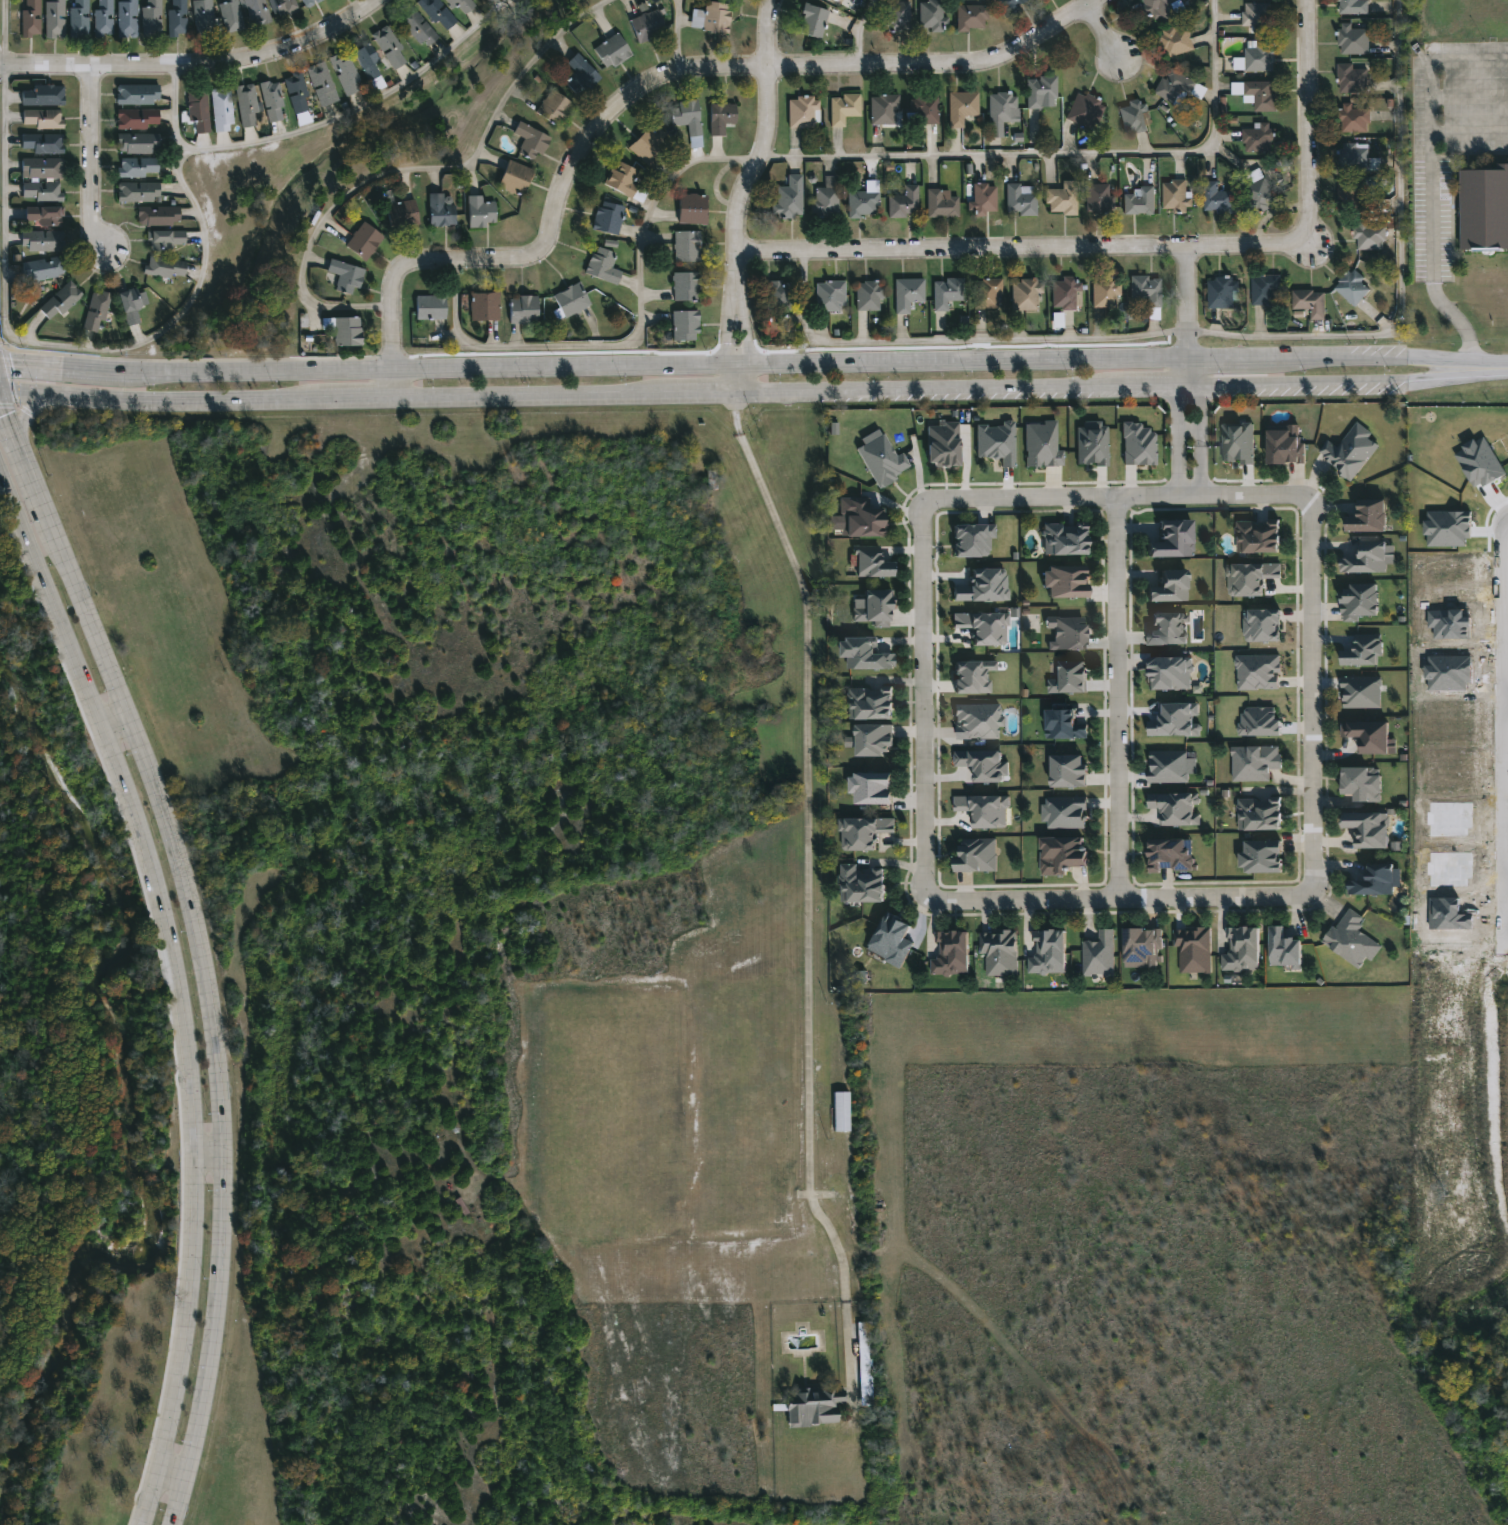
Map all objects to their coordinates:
building: (480, 0)
building: (840, 0)
building: (307, 2)
building: (1010, 4)
building: (285, 6)
building: (460, 6)
building: (1352, 7)
building: (1162, 8)
building: (254, 12)
building: (436, 14)
building: (931, 14)
building: (229, 15)
building: (898, 16)
building: (1257, 16)
building: (176, 17)
building: (202, 17)
building: (711, 17)
building: (972, 17)
building: (30, 18)
building: (53, 18)
building: (77, 18)
building: (102, 18)
building: (125, 18)
building: (150, 18)
building: (812, 20)
building: (647, 26)
building: (417, 27)
road: (5, 32)
road: (857, 33)
road: (1105, 35)
road: (677, 37)
building: (1353, 38)
building: (1177, 40)
building: (389, 47)
building: (612, 51)
building: (1258, 55)
road: (1433, 61)
building: (370, 67)
road: (198, 69)
building: (346, 73)
building: (580, 76)
building: (1352, 77)
building: (321, 83)
building: (1178, 85)
road: (650, 86)
building: (1039, 89)
building: (296, 92)
building: (1257, 93)
building: (136, 94)
building: (41, 95)
building: (271, 100)
building: (246, 105)
building: (962, 106)
building: (843, 107)
building: (1002, 107)
building: (221, 108)
building: (553, 108)
building: (883, 108)
building: (197, 109)
road: (357, 109)
road: (1309, 109)
building: (923, 110)
building: (1085, 110)
building: (801, 111)
building: (1134, 115)
building: (686, 116)
building: (721, 117)
building: (1354, 117)
building: (42, 118)
building: (137, 118)
road: (1469, 134)
building: (1258, 138)
building: (530, 141)
building: (41, 142)
building: (138, 143)
building: (648, 145)
road: (766, 149)
road: (1062, 155)
building: (1354, 156)
building: (41, 167)
road: (93, 167)
building: (137, 167)
road: (414, 168)
building: (515, 177)
building: (625, 181)
park: (335, 184)
building: (1260, 190)
building: (42, 191)
building: (138, 191)
building: (1176, 193)
building: (1353, 193)
building: (825, 197)
building: (1096, 197)
building: (1217, 197)
building: (788, 198)
building: (1061, 198)
building: (984, 199)
building: (1139, 200)
building: (1019, 201)
building: (904, 202)
building: (941, 202)
building: (862, 203)
building: (1485, 207)
building: (693, 208)
building: (441, 209)
building: (480, 211)
building: (402, 213)
building: (44, 216)
building: (158, 216)
building: (607, 217)
building: (1370, 235)
building: (164, 239)
building: (364, 239)
building: (43, 240)
building: (686, 246)
road: (1032, 252)
road: (1431, 255)
building: (164, 266)
building: (602, 266)
building: (43, 268)
road: (1401, 268)
building: (345, 276)
building: (685, 285)
building: (1352, 285)
building: (1146, 289)
building: (1266, 289)
building: (1221, 291)
building: (946, 292)
building: (1066, 292)
building: (1105, 292)
building: (907, 293)
building: (987, 293)
building: (778, 295)
building: (830, 295)
building: (868, 295)
building: (1026, 295)
building: (60, 299)
building: (570, 299)
building: (1310, 301)
building: (129, 304)
building: (484, 305)
road: (1189, 305)
building: (430, 306)
building: (523, 309)
building: (95, 311)
building: (684, 325)
road: (724, 329)
building: (347, 331)
road: (747, 332)
road: (638, 335)
road: (90, 349)
road: (1404, 356)
road: (1283, 357)
road: (1217, 358)
road: (658, 365)
road: (1498, 366)
road: (64, 367)
road: (734, 379)
traffic signals: (0, 390)
road: (745, 392)
road: (25, 421)
road: (1175, 429)
road: (1199, 429)
building: (1041, 442)
building: (1091, 442)
building: (996, 443)
building: (1238, 443)
building: (1284, 443)
building: (943, 445)
building: (1138, 445)
building: (1349, 448)
building: (882, 459)
building: (1479, 462)
road: (1118, 499)
building: (1367, 513)
building: (860, 516)
building: (1447, 528)
building: (1258, 534)
building: (1064, 537)
building: (1171, 538)
building: (972, 540)
building: (1370, 558)
building: (870, 562)
building: (1250, 578)
building: (1065, 580)
building: (984, 587)
building: (1169, 587)
building: (1360, 599)
building: (873, 608)
building: (1261, 625)
building: (984, 627)
building: (1167, 629)
building: (1067, 633)
building: (1363, 649)
building: (864, 652)
building: (1258, 671)
building: (1170, 673)
building: (973, 677)
building: (1070, 678)
building: (1361, 690)
road: (927, 697)
road: (1116, 697)
road: (1314, 697)
road: (1505, 698)
building: (871, 700)
road: (1502, 704)
building: (1176, 720)
building: (978, 721)
building: (1260, 721)
building: (1064, 725)
building: (1369, 733)
road: (121, 734)
building: (874, 739)
building: (1254, 759)
building: (983, 765)
building: (1170, 766)
building: (1068, 771)
building: (1362, 780)
building: (874, 785)
building: (1176, 808)
building: (985, 810)
building: (1260, 811)
building: (1064, 812)
building: (1368, 826)
building: (864, 832)
building: (977, 852)
building: (1062, 852)
building: (1169, 853)
building: (1263, 854)
building: (1371, 876)
building: (861, 881)
road: (1122, 896)
road: (806, 899)
building: (891, 936)
building: (1350, 937)
road: (200, 942)
building: (1142, 945)
building: (1285, 945)
building: (1192, 947)
building: (1243, 948)
building: (998, 950)
building: (1048, 950)
building: (952, 951)
building: (1098, 952)
road: (180, 990)
park: (76, 1106)
building: (841, 1112)
road: (210, 1160)
building: (864, 1364)
building: (815, 1407)
road: (165, 1500)

